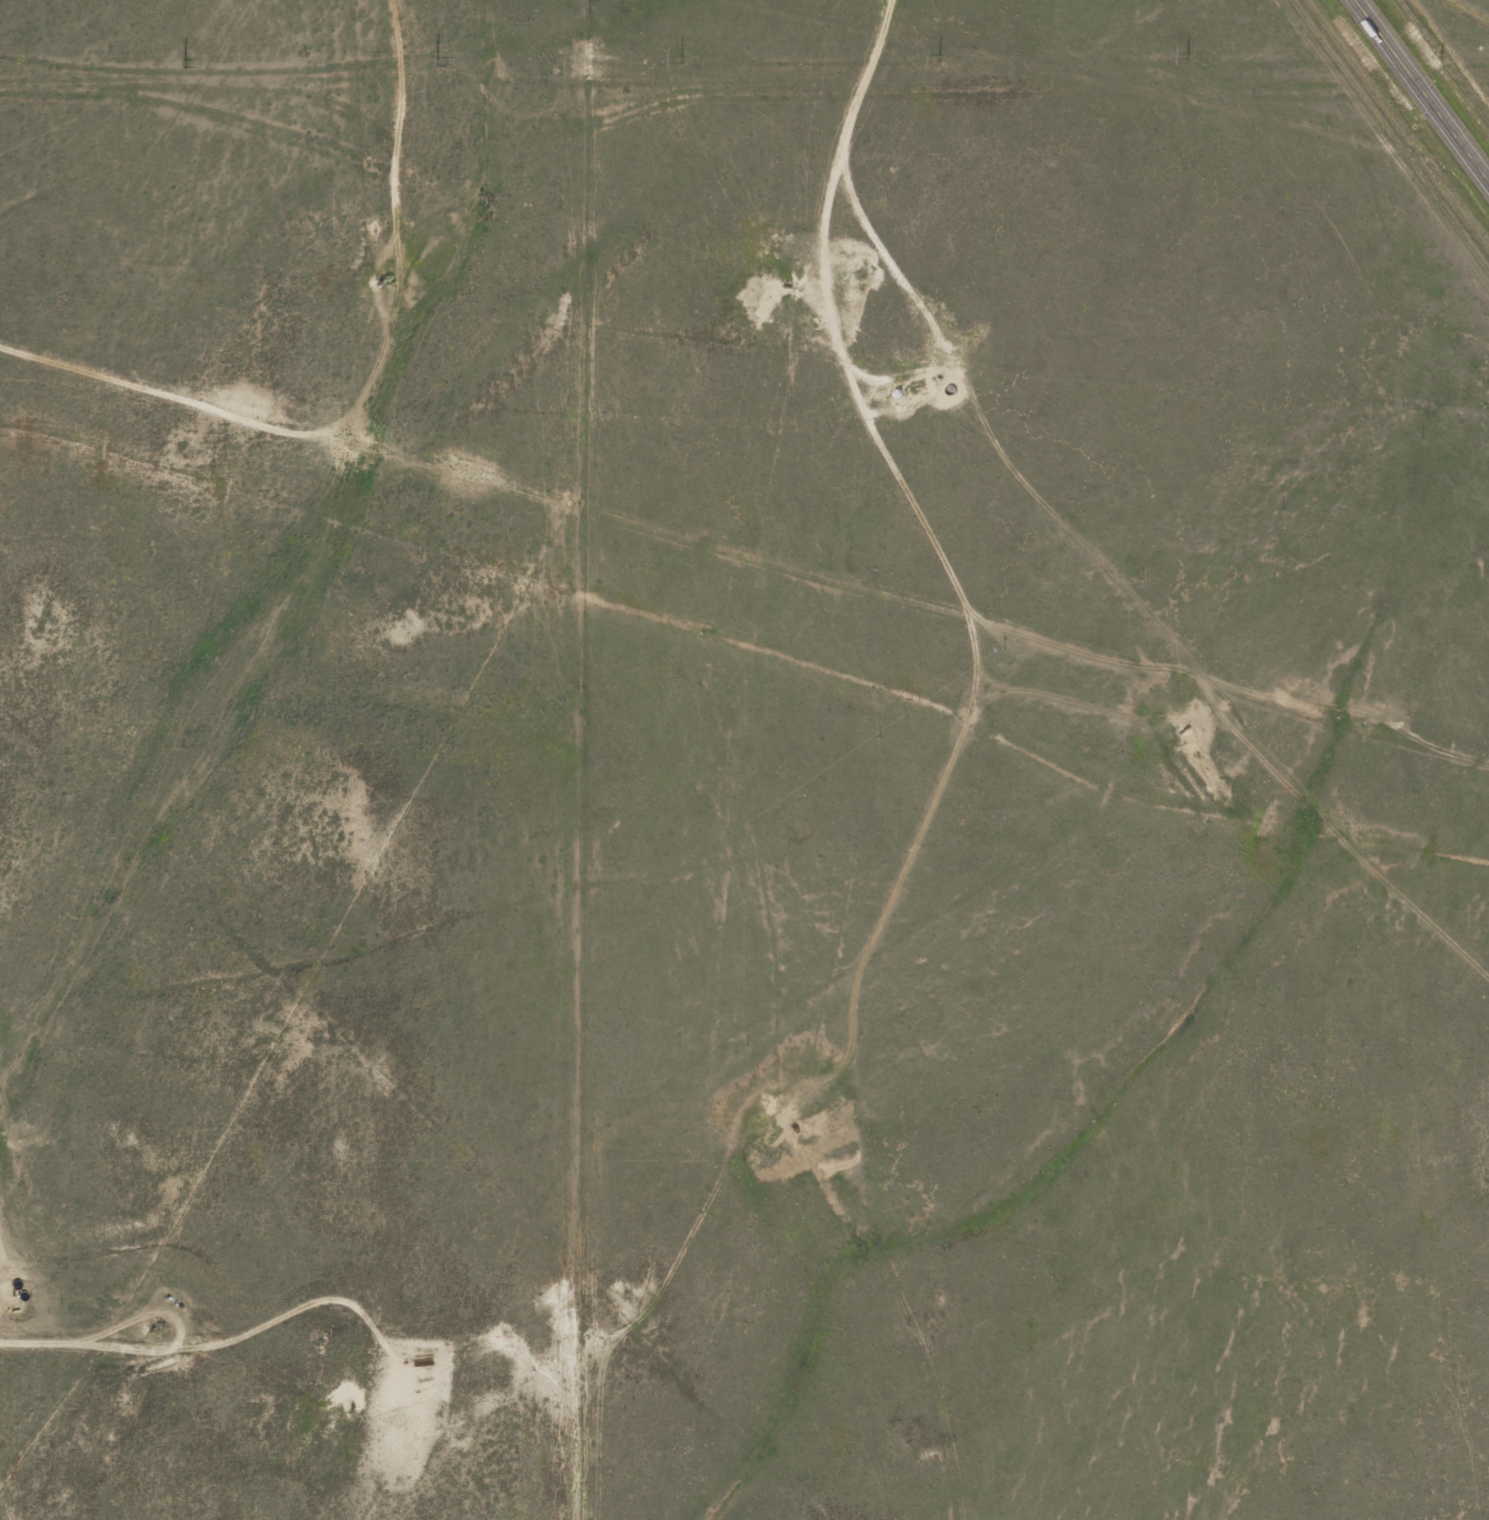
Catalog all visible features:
power tower: (1441, 53)
power tower: (1185, 55)
power tower: (937, 57)
power tower: (680, 58)
power tower: (435, 60)
power tower: (182, 61)
road: (1424, 88)
road: (403, 123)

